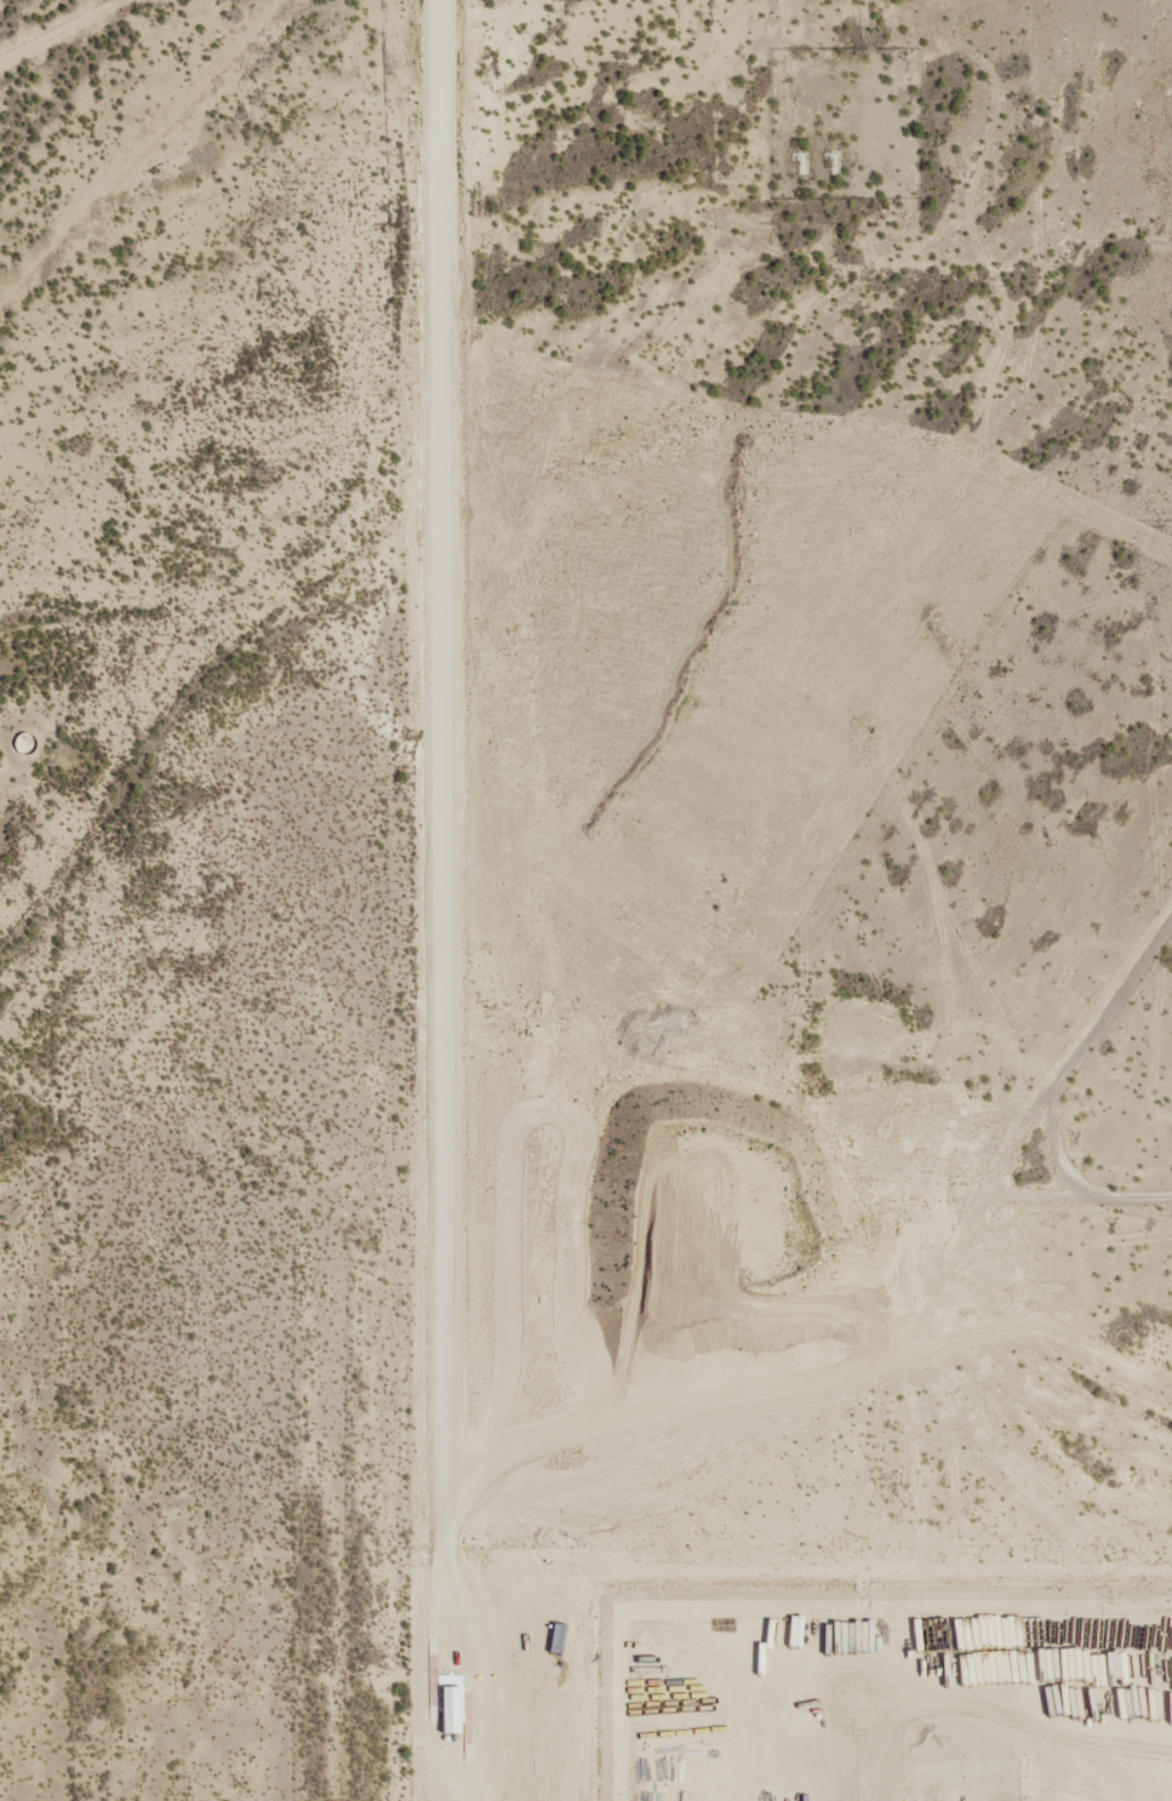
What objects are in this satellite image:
building: (450, 1710)

